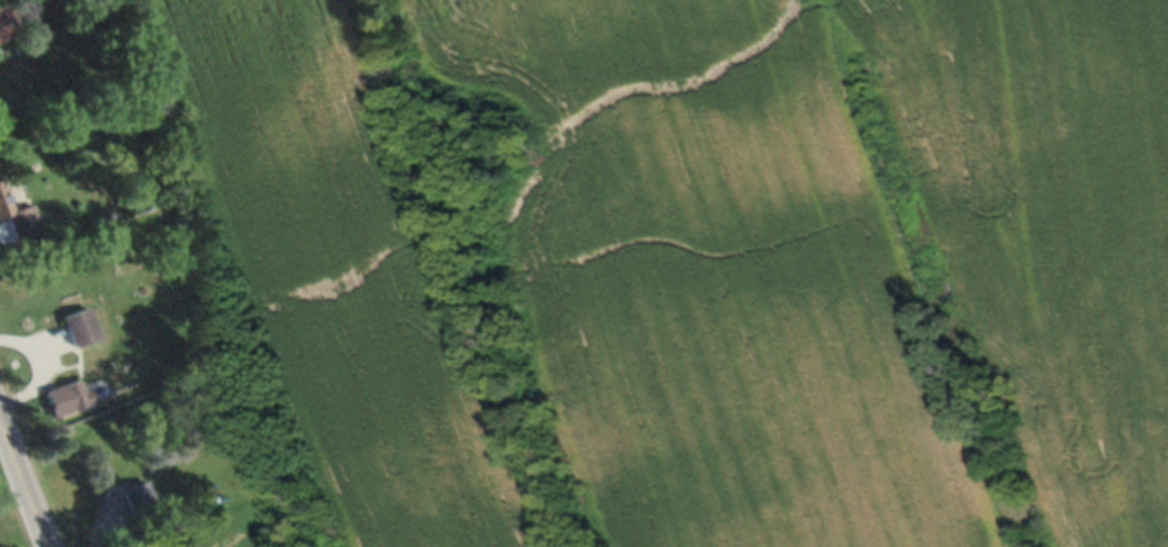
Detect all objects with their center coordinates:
building: (7, 23)
building: (18, 214)
crop: (688, 263)
building: (80, 326)
building: (67, 396)
road: (21, 489)
building: (137, 499)
building: (149, 546)

